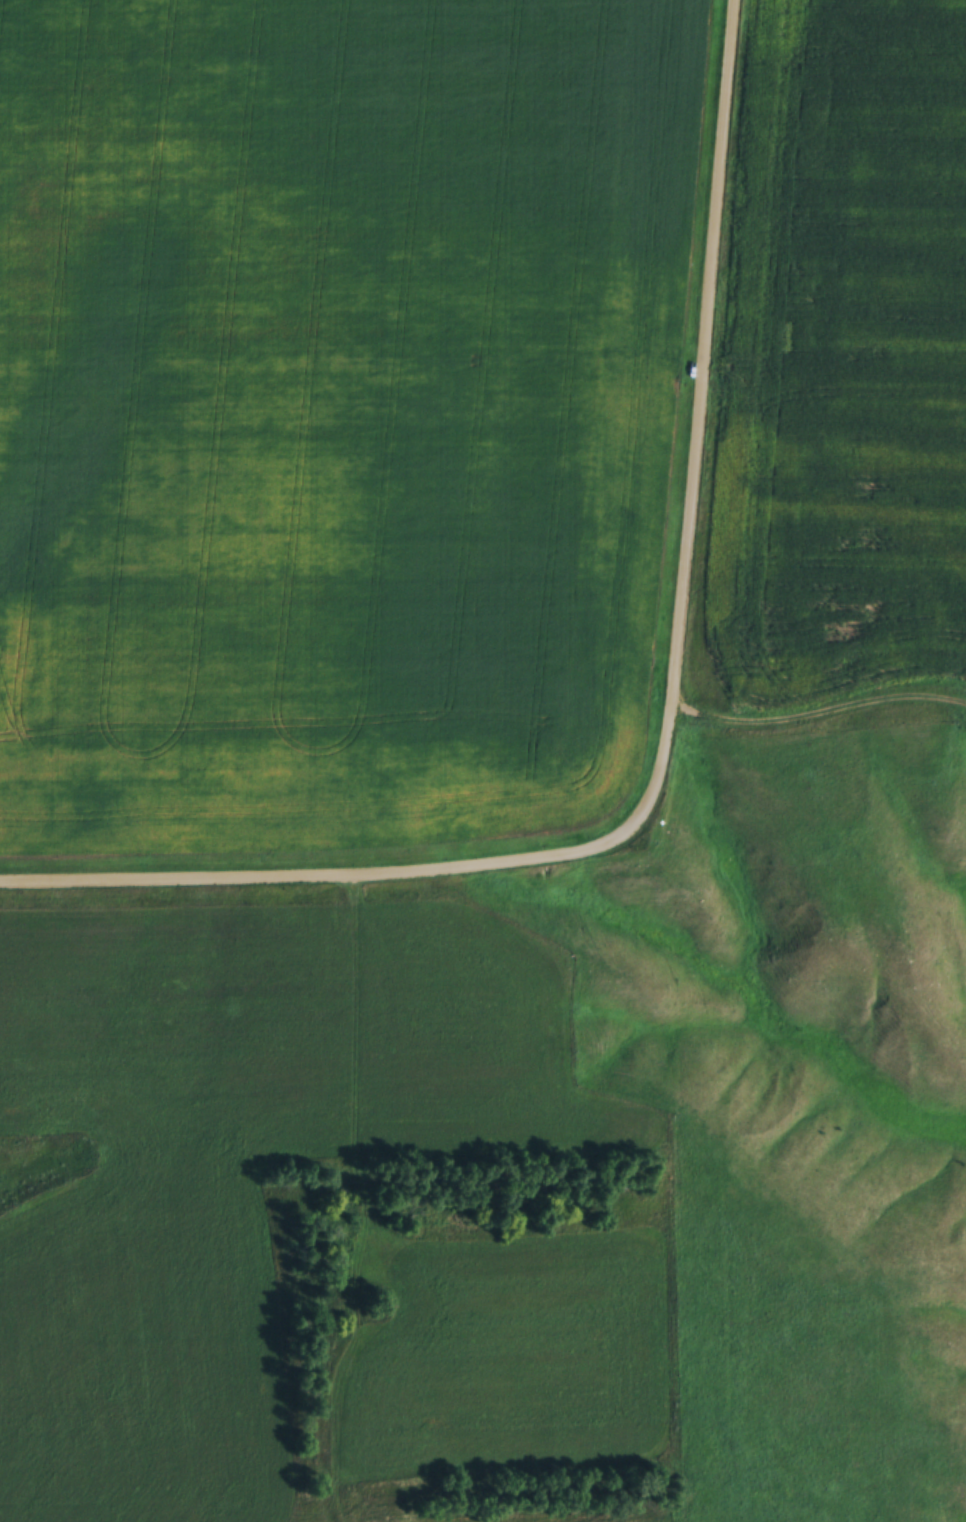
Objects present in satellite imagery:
road: (820, 708)
road: (669, 736)

